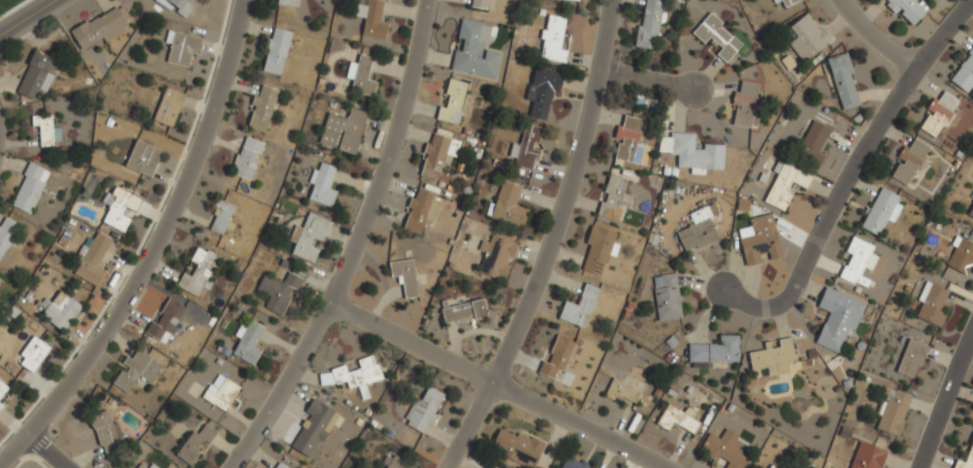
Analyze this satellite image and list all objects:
building: (567, 0)
building: (775, 1)
building: (287, 2)
building: (789, 2)
building: (483, 4)
building: (180, 5)
park: (9, 6)
building: (905, 10)
road: (28, 17)
building: (372, 17)
building: (650, 24)
building: (100, 28)
road: (882, 33)
building: (807, 36)
building: (717, 37)
building: (552, 40)
building: (182, 48)
building: (475, 50)
building: (276, 51)
building: (963, 73)
building: (36, 75)
building: (361, 76)
road: (650, 82)
building: (843, 82)
building: (542, 90)
building: (452, 101)
building: (746, 105)
building: (168, 107)
building: (262, 109)
building: (939, 114)
building: (47, 130)
building: (343, 131)
building: (630, 142)
building: (812, 144)
building: (527, 147)
building: (692, 153)
building: (438, 154)
building: (143, 158)
building: (247, 158)
building: (909, 163)
road: (852, 173)
building: (321, 185)
building: (785, 185)
building: (29, 188)
building: (972, 196)
building: (613, 198)
building: (120, 205)
building: (508, 205)
building: (421, 211)
building: (880, 212)
building: (971, 213)
building: (220, 217)
building: (698, 230)
building: (6, 234)
building: (309, 236)
road: (555, 241)
building: (759, 241)
road: (360, 247)
road: (155, 249)
building: (597, 251)
building: (497, 257)
building: (961, 257)
building: (92, 259)
building: (857, 262)
building: (196, 271)
building: (404, 276)
building: (278, 292)
building: (666, 297)
building: (932, 304)
building: (579, 307)
building: (61, 310)
building: (462, 311)
building: (165, 320)
building: (837, 320)
building: (248, 343)
building: (713, 352)
building: (33, 354)
building: (556, 356)
building: (773, 357)
building: (912, 359)
building: (136, 371)
building: (351, 376)
road: (498, 386)
building: (2, 387)
building: (623, 392)
building: (221, 393)
building: (2, 403)
road: (945, 405)
building: (424, 410)
building: (892, 411)
building: (677, 420)
building: (313, 429)
building: (105, 431)
building: (195, 444)
building: (517, 447)
building: (725, 449)
building: (971, 449)
road: (43, 456)
building: (868, 456)
building: (394, 463)
building: (573, 464)
building: (278, 465)
building: (141, 466)
building: (152, 466)
building: (772, 466)

